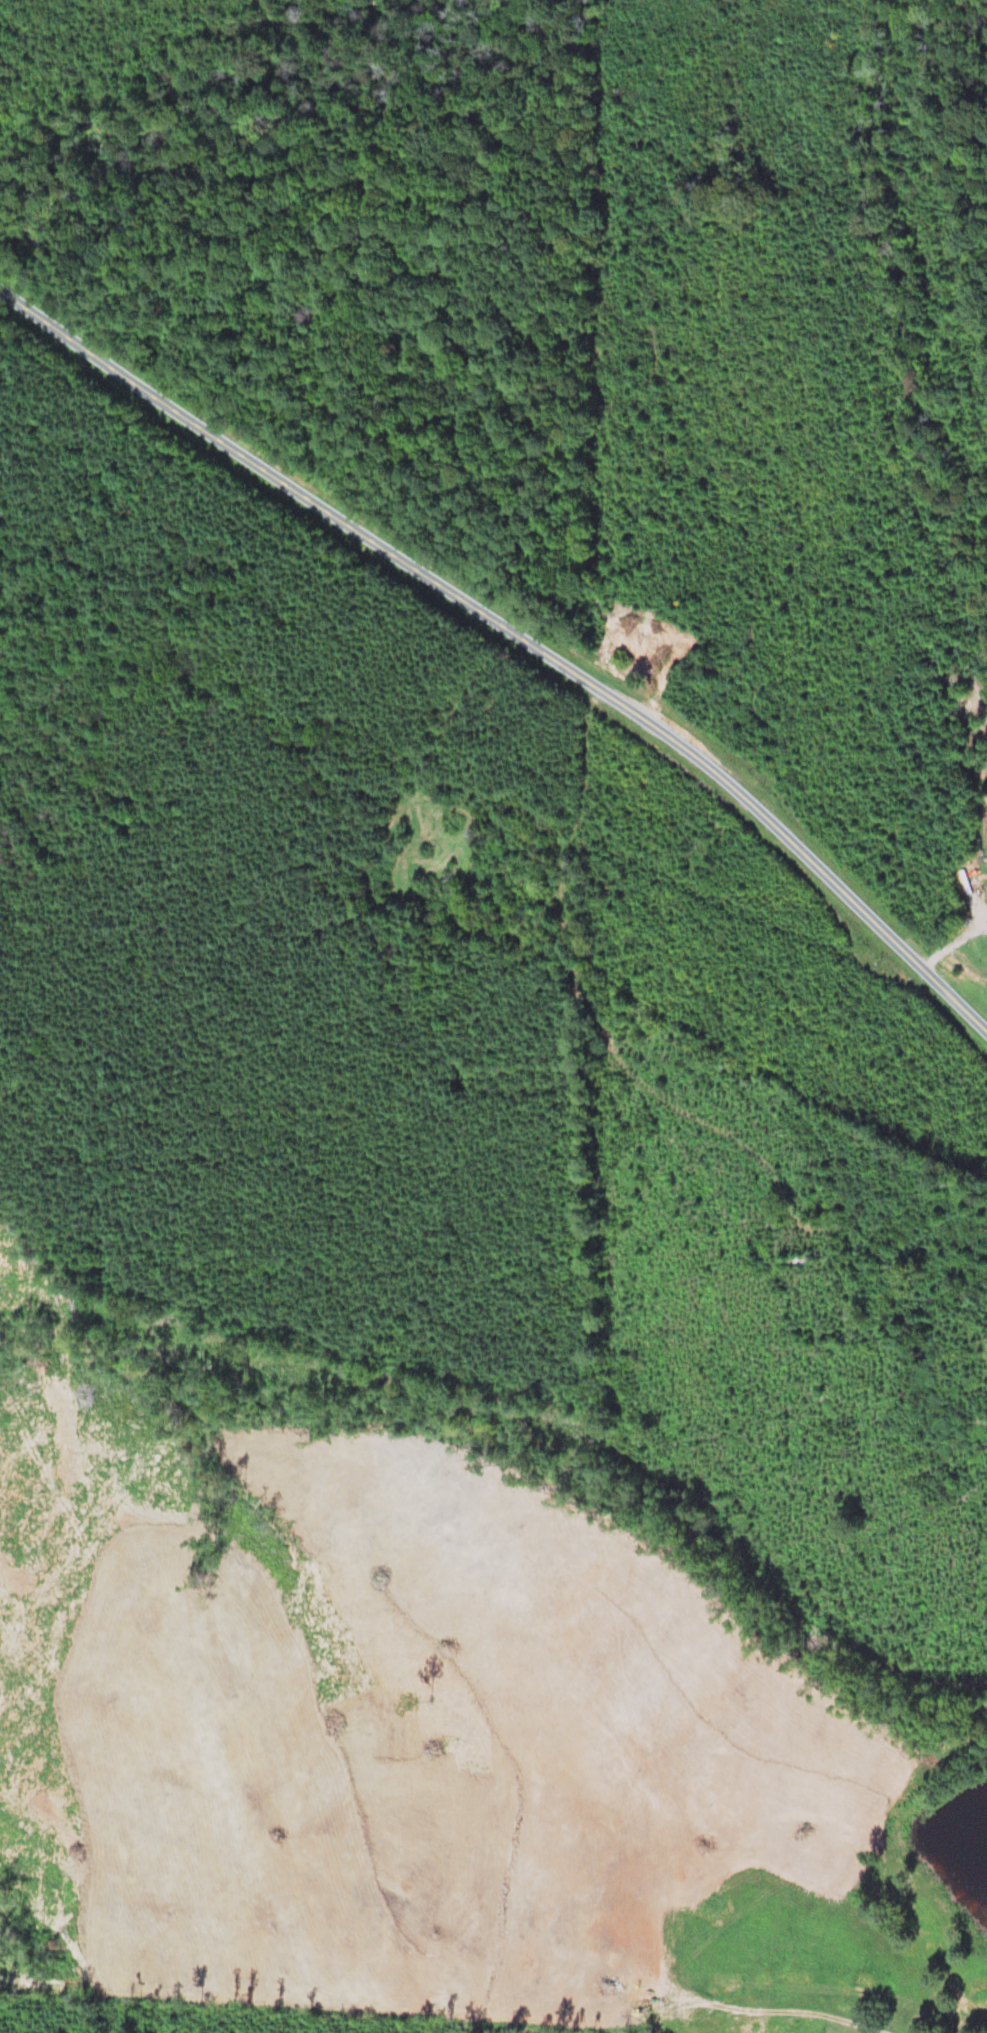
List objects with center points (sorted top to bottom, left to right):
building: (604, 613)
road: (516, 629)
building: (657, 652)
building: (984, 937)
road: (955, 945)
building: (799, 1260)

